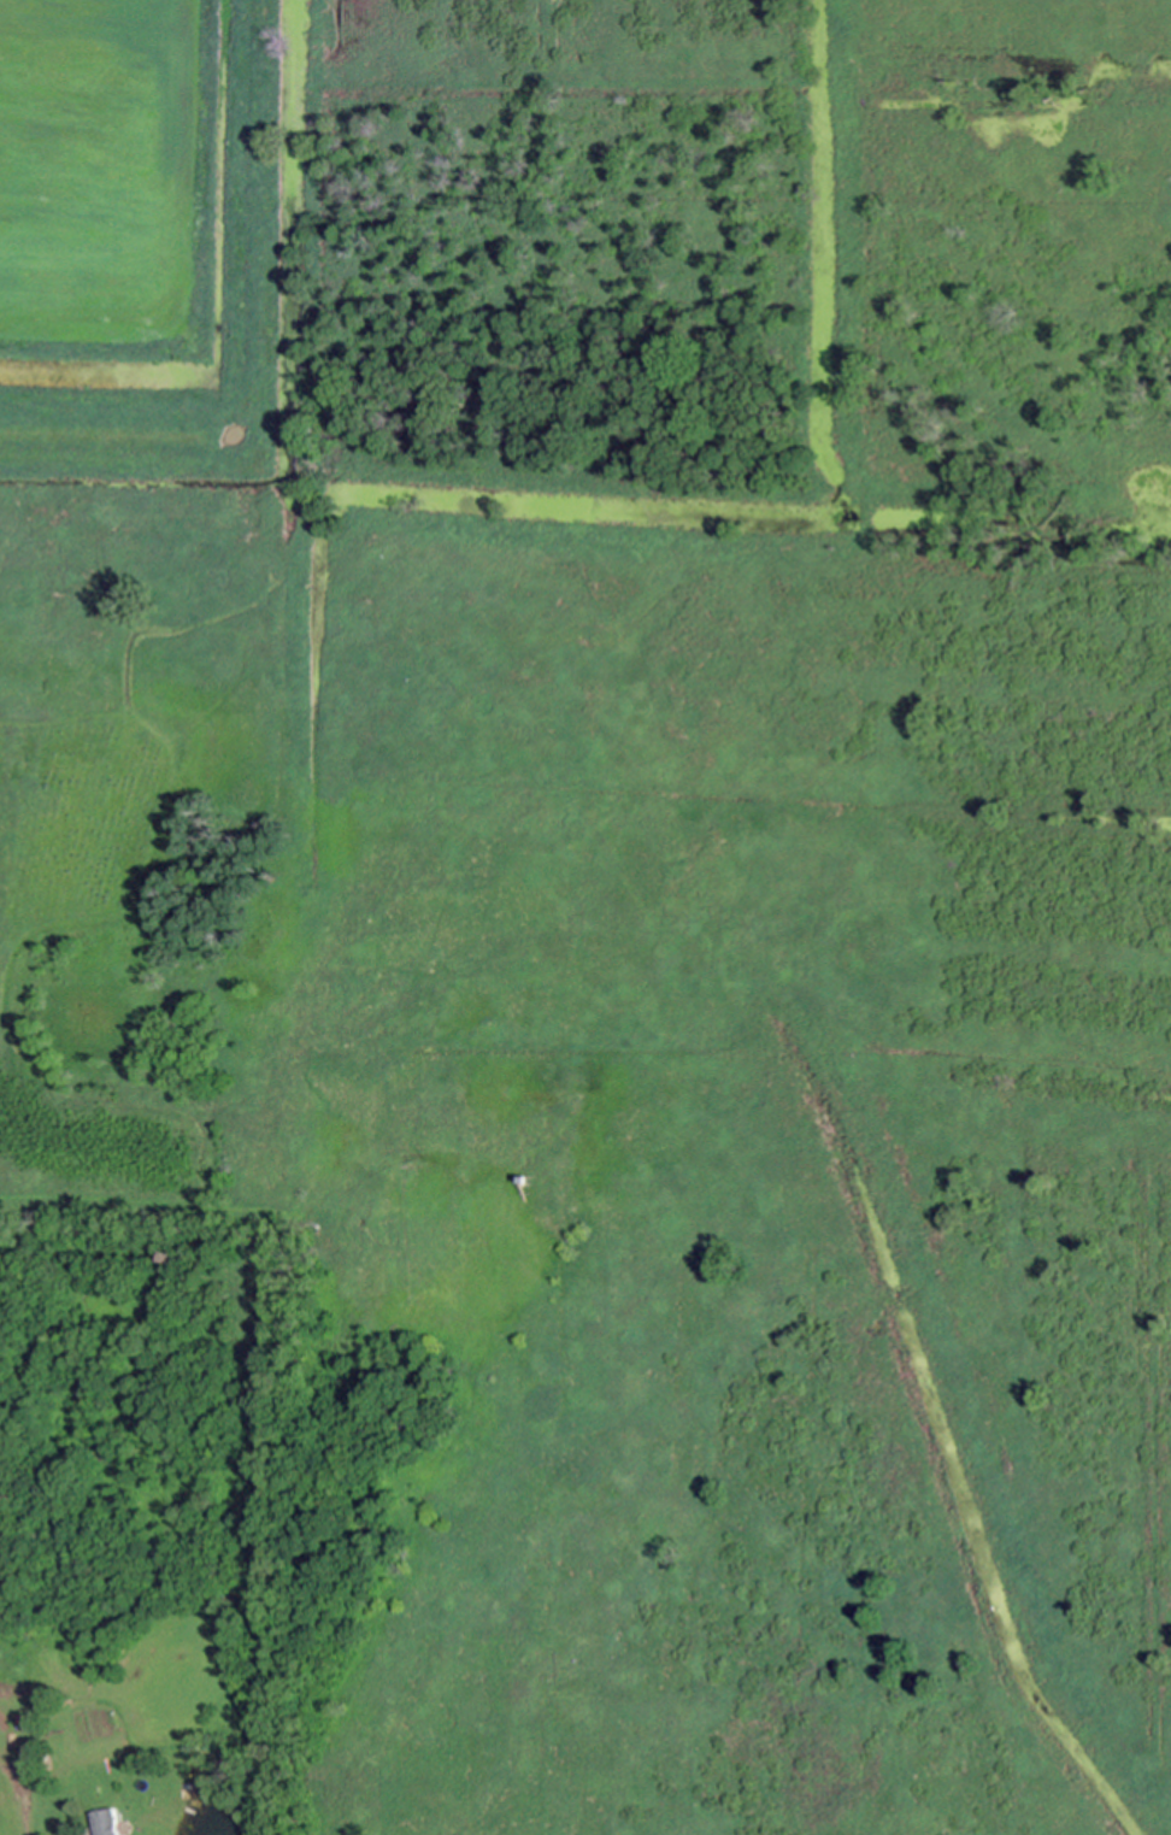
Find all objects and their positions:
road: (12, 1802)
building: (107, 1824)

